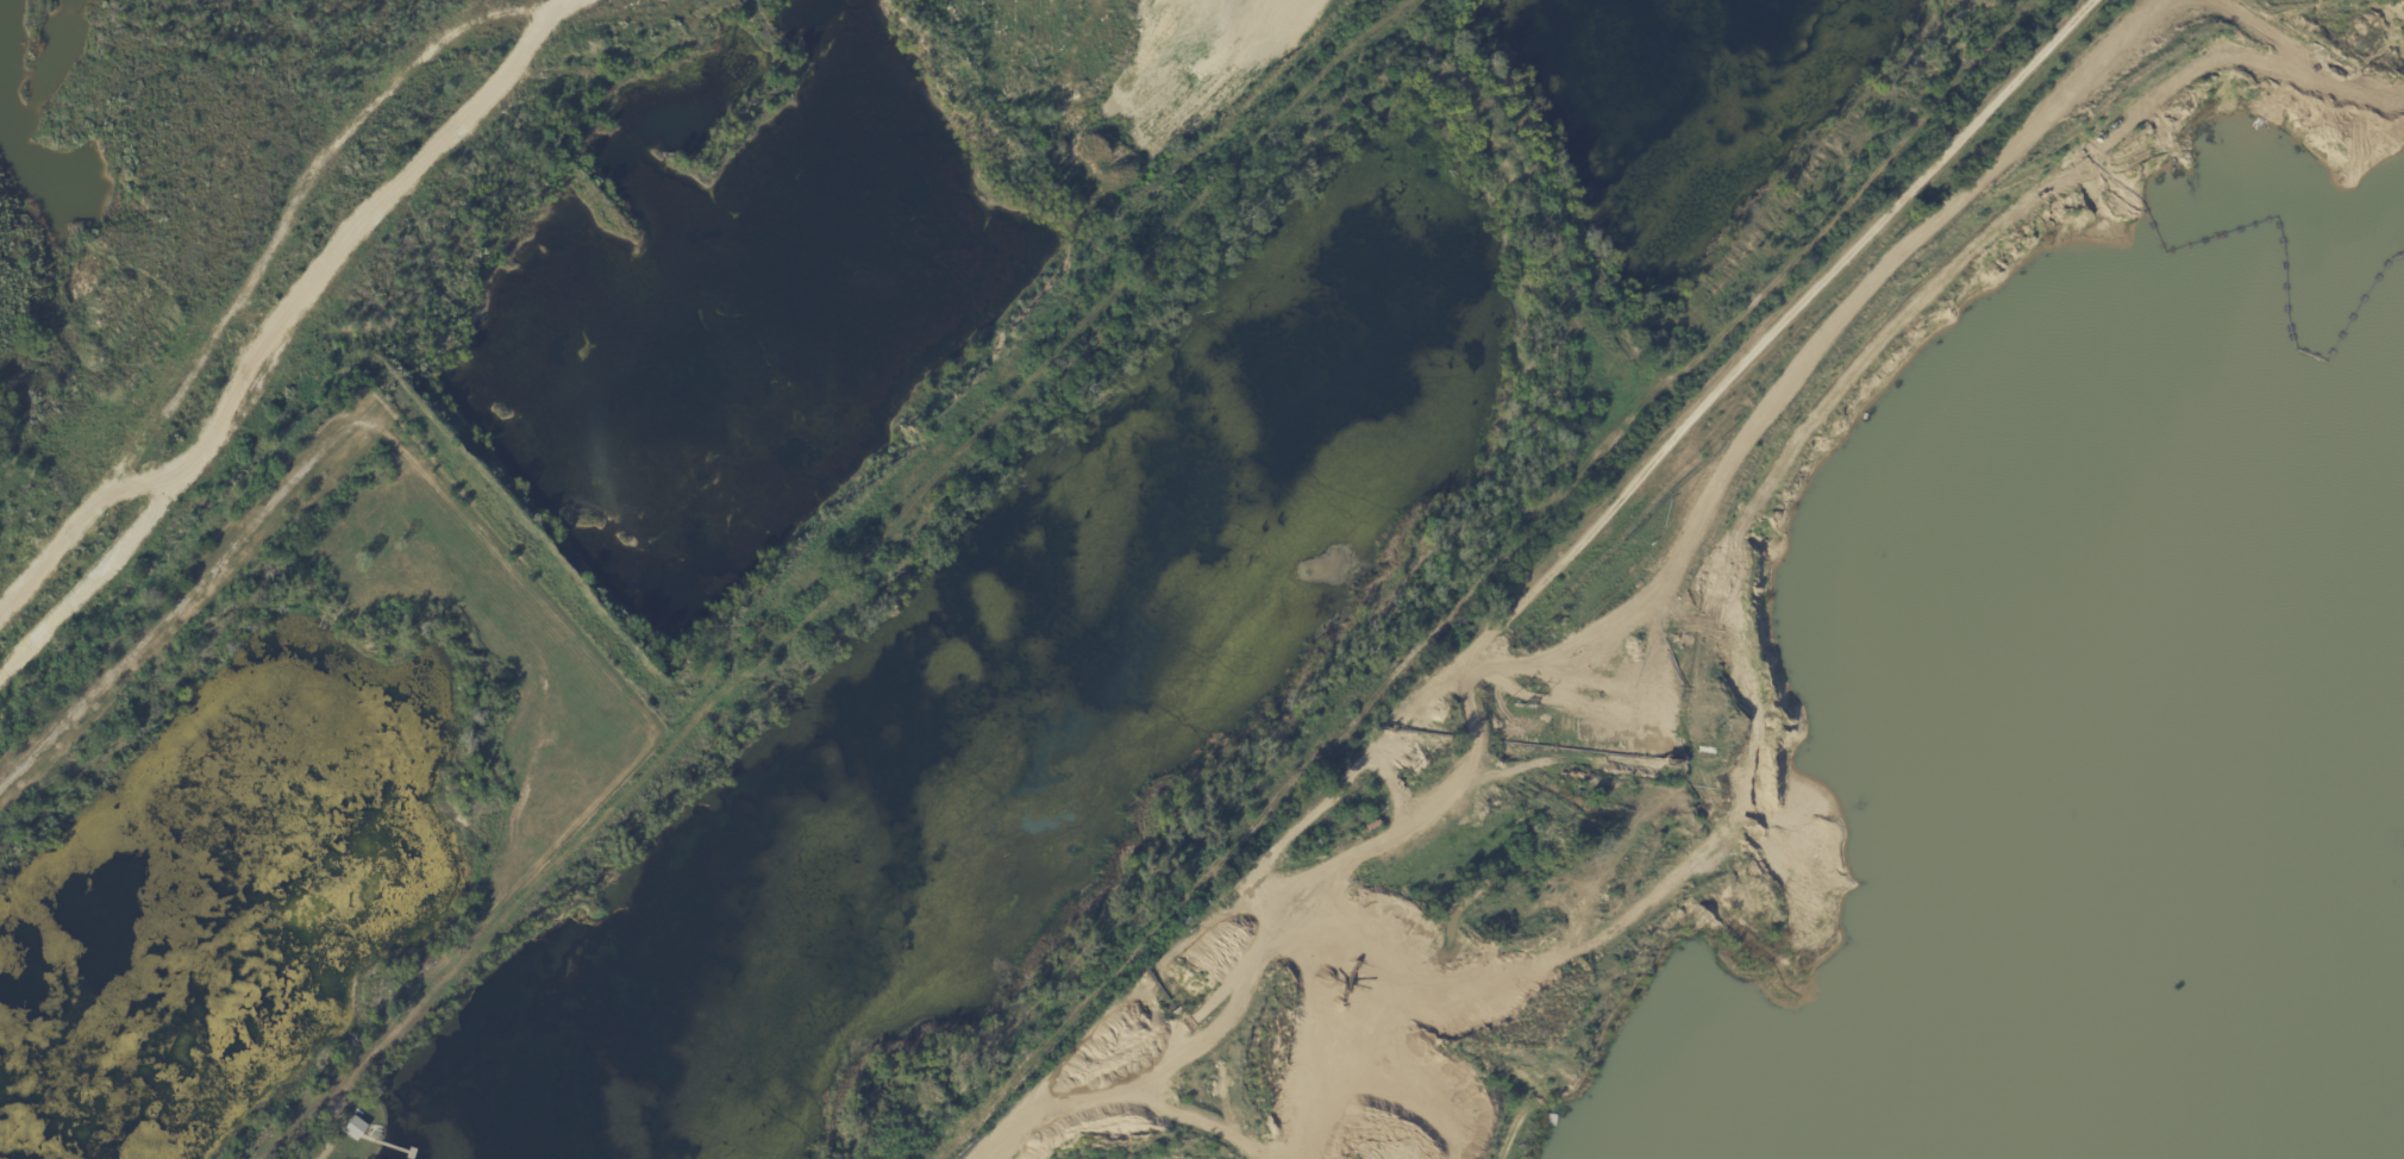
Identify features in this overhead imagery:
building: (709, 58)
quarry: (557, 255)
road: (204, 578)
road: (1270, 948)
quarry: (1786, 951)
building: (1185, 1020)
building: (355, 1127)

